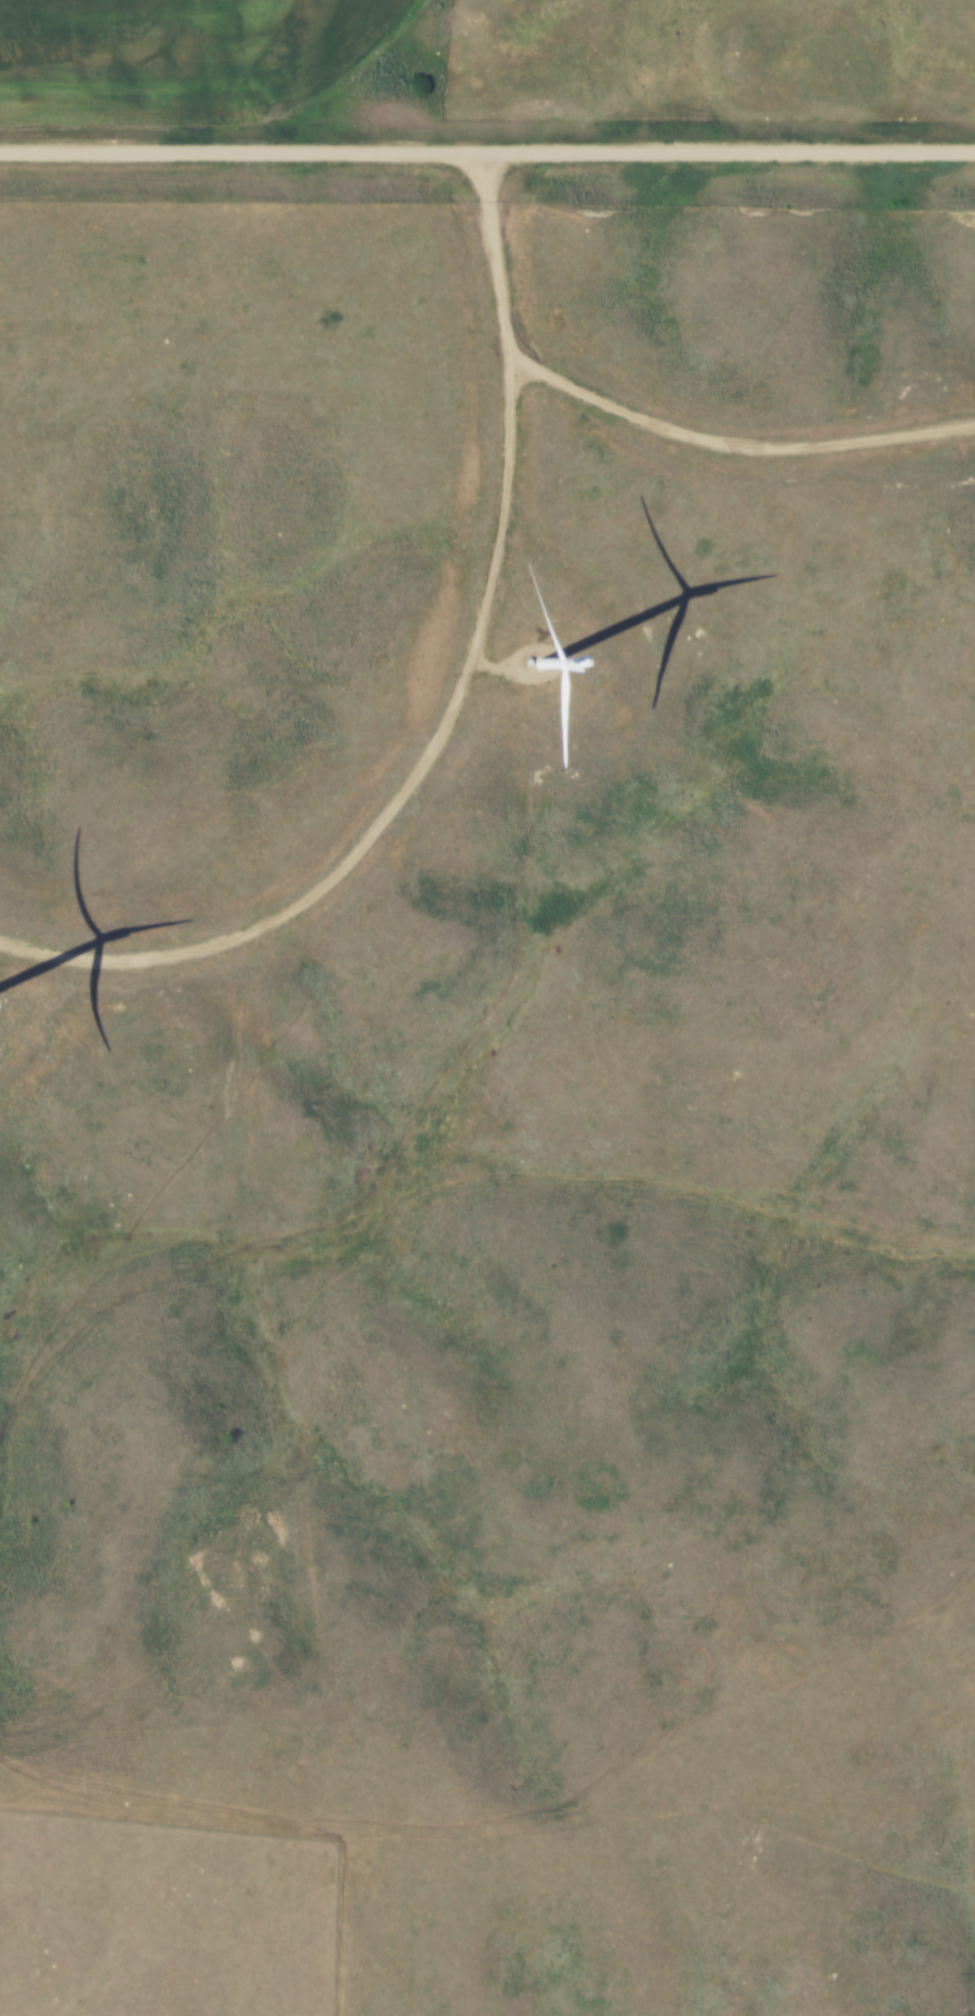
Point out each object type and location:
road: (487, 144)
wind turbine: (537, 666)

